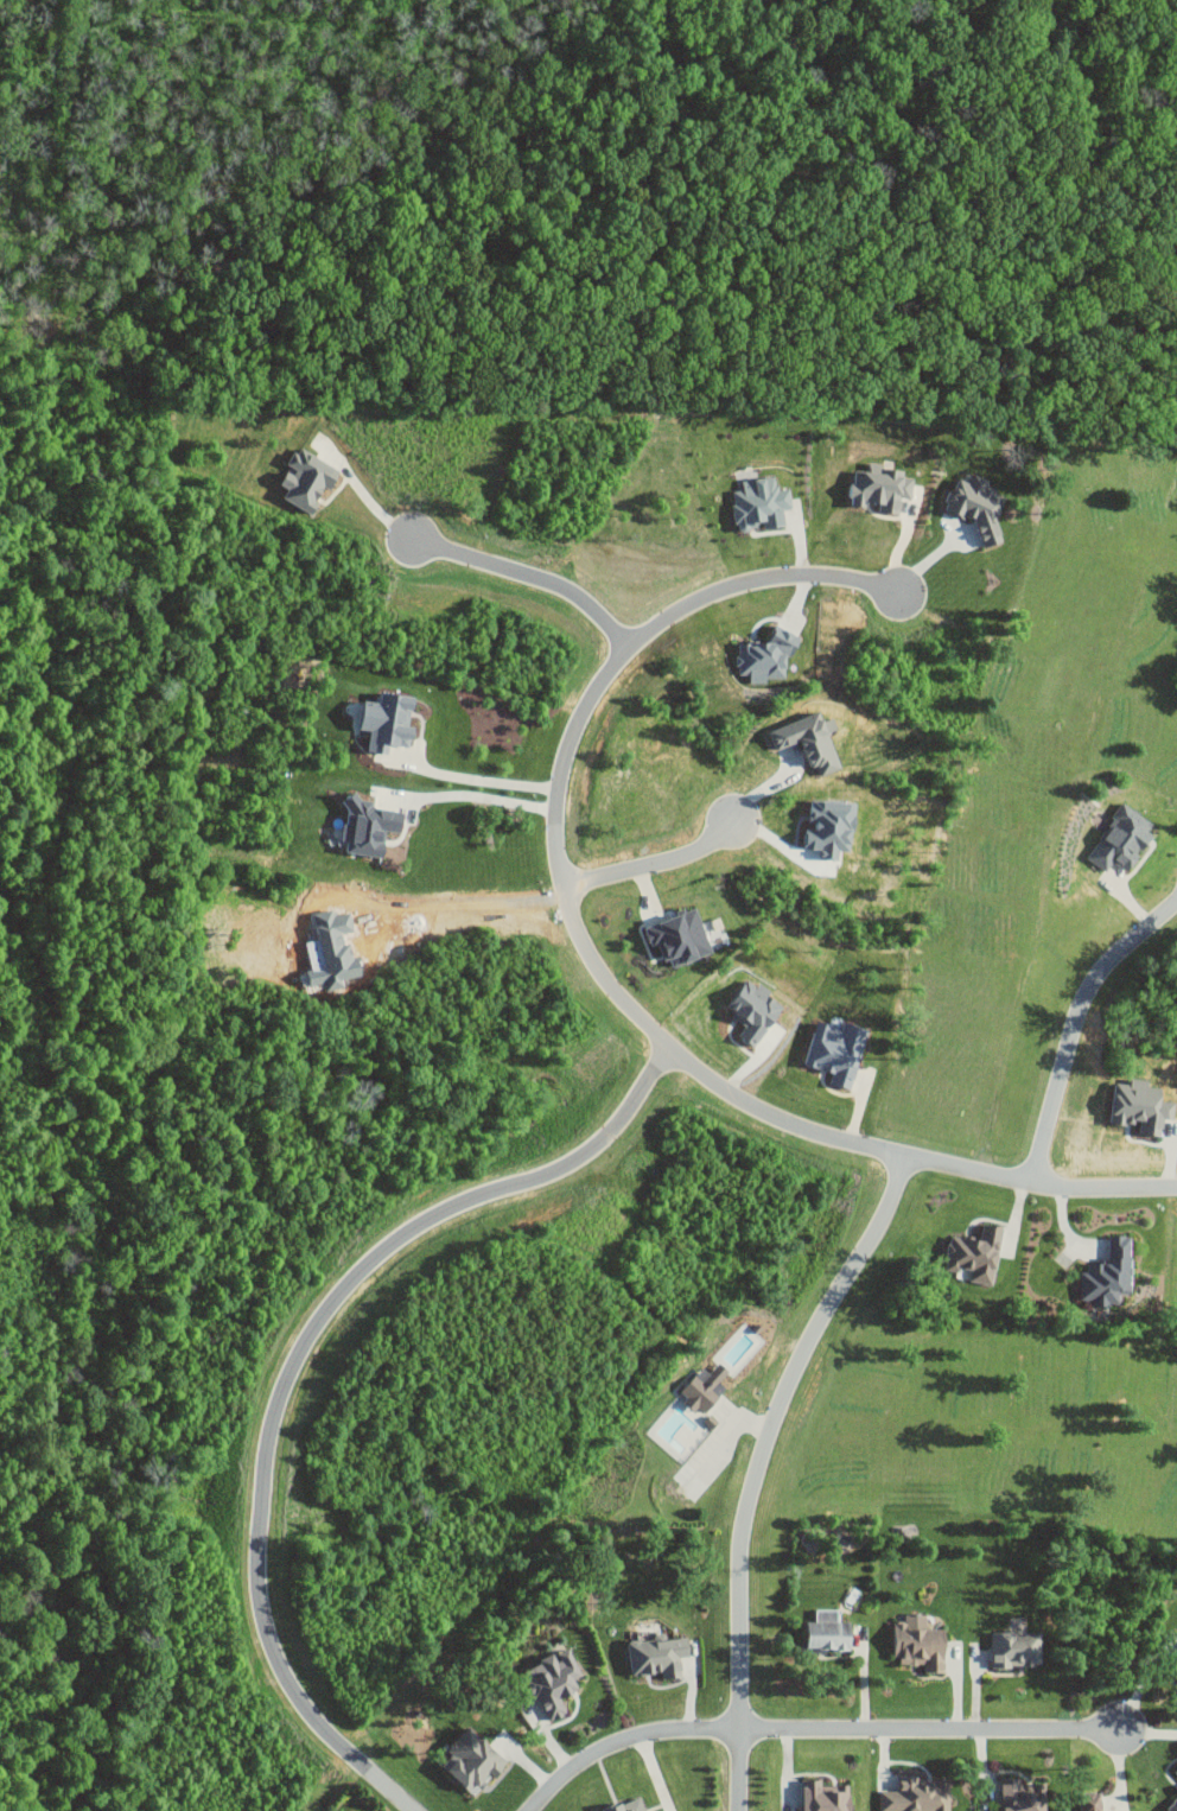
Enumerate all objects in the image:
building: (307, 478)
building: (761, 503)
building: (979, 506)
road: (533, 579)
building: (768, 655)
building: (388, 720)
building: (809, 741)
road: (476, 779)
road: (475, 794)
building: (369, 826)
building: (1122, 839)
road: (559, 845)
road: (654, 870)
road: (443, 902)
building: (681, 938)
road: (1076, 1029)
building: (1141, 1106)
road: (1042, 1187)
building: (976, 1253)
building: (1109, 1275)
road: (293, 1372)
building: (706, 1389)
road: (774, 1430)
building: (829, 1629)
building: (921, 1642)
building: (1016, 1647)
building: (659, 1653)
building: (1176, 1665)
building: (553, 1679)
road: (931, 1729)
road: (624, 1742)
building: (472, 1758)
road: (738, 1769)
building: (1176, 1769)
road: (653, 1774)
building: (917, 1794)
building: (1023, 1794)
building: (823, 1796)
building: (1090, 1802)
building: (1171, 1804)
building: (628, 1805)

